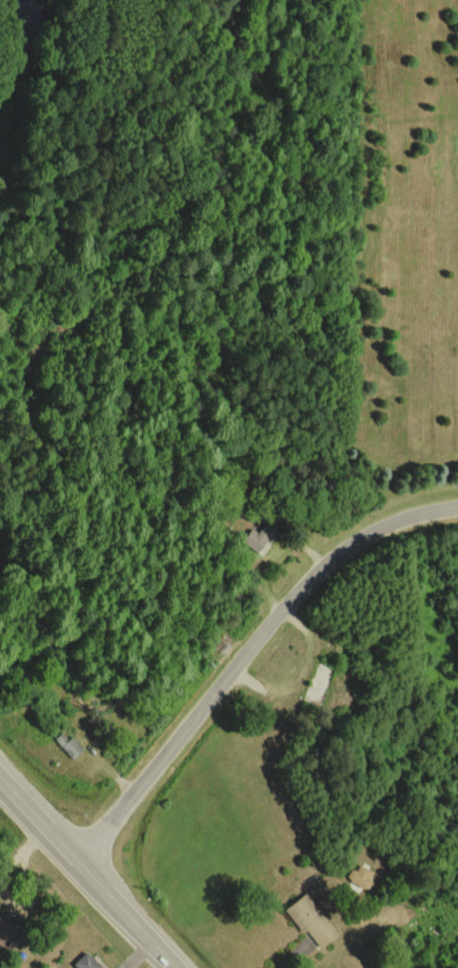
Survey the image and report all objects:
building: (257, 540)
road: (248, 651)
building: (67, 743)
road: (89, 868)
building: (362, 876)
building: (310, 919)
building: (6, 931)
road: (282, 955)
building: (86, 961)

